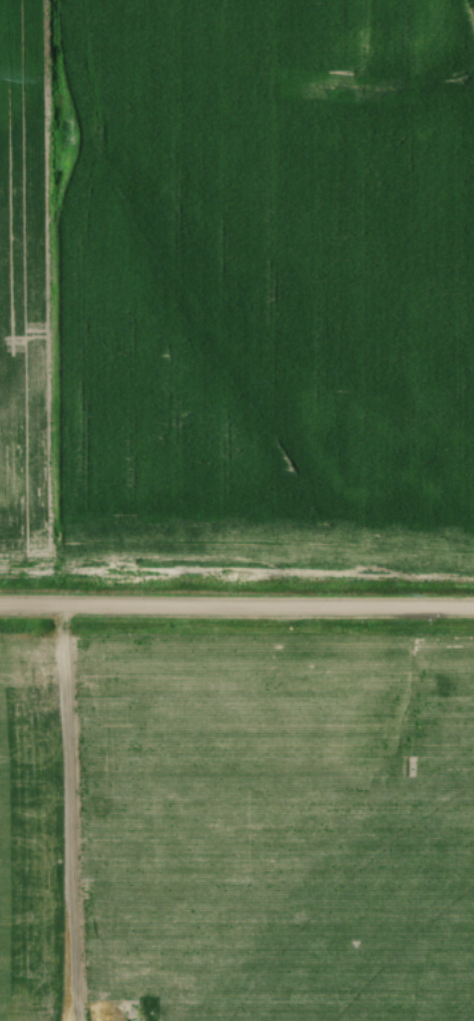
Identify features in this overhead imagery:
road: (236, 611)

